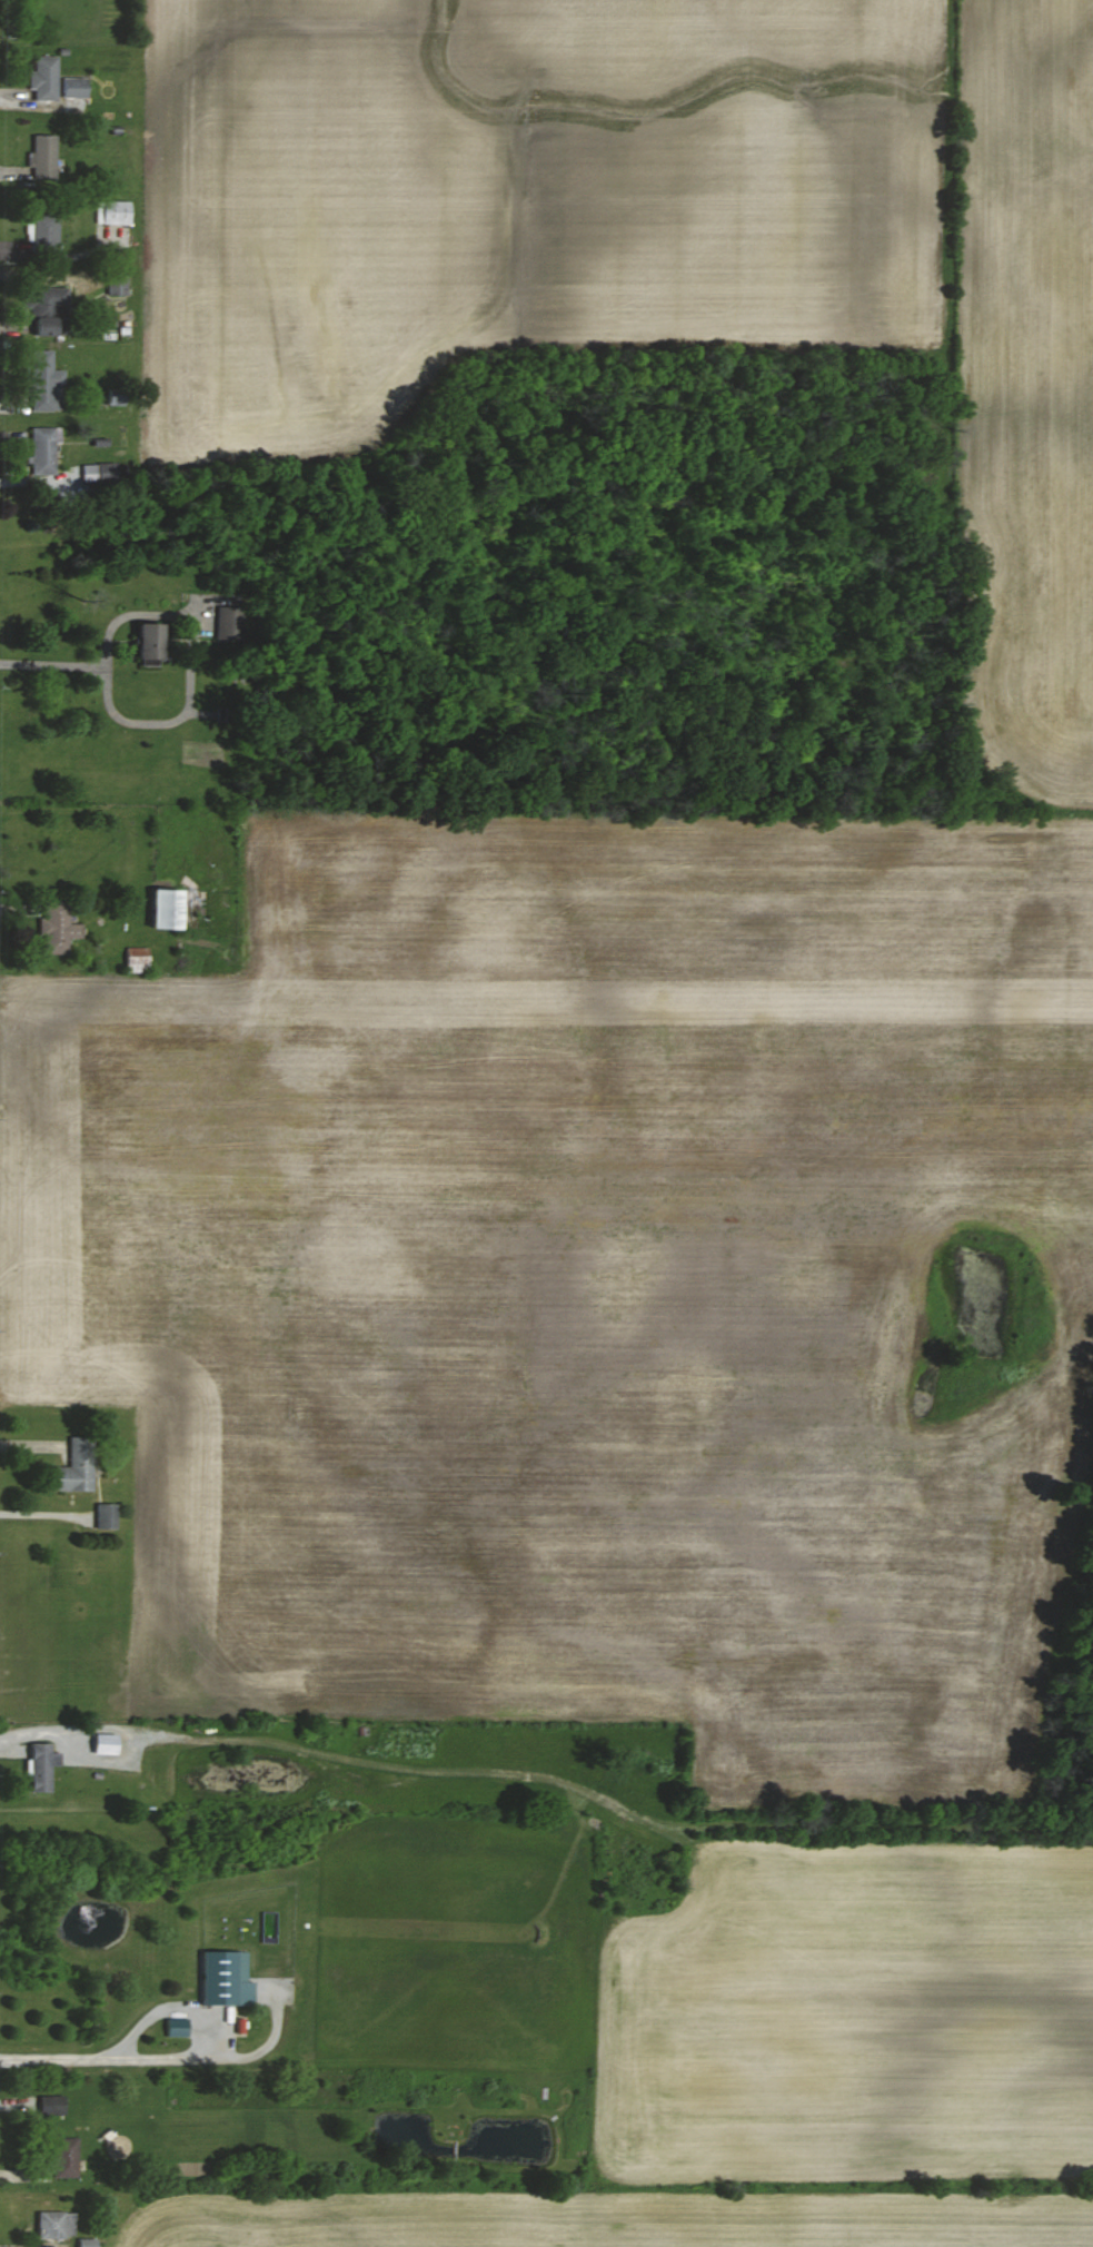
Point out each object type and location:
building: (43, 79)
building: (73, 93)
building: (42, 156)
building: (112, 211)
building: (42, 228)
building: (117, 281)
building: (41, 298)
building: (44, 325)
building: (46, 382)
building: (43, 451)
building: (148, 640)
road: (111, 710)
building: (165, 908)
building: (56, 927)
building: (137, 959)
building: (76, 1466)
building: (105, 1516)
road: (29, 1729)
road: (135, 1746)
building: (41, 1765)
road: (609, 1803)
building: (225, 1977)
road: (197, 2022)
building: (176, 2026)
road: (56, 2059)
building: (51, 2104)
building: (64, 2156)
building: (54, 2224)
building: (87, 2241)

